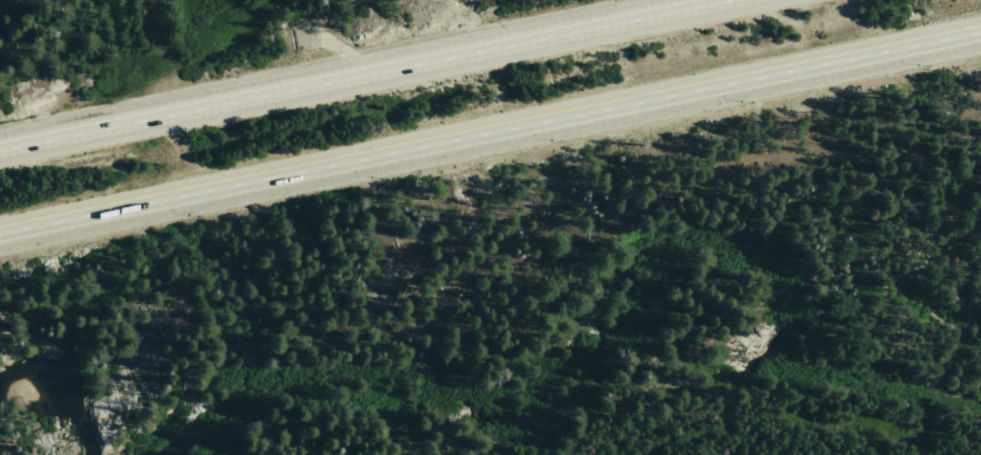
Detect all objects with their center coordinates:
road: (361, 74)
road: (490, 135)
road: (180, 154)
river: (617, 301)
river: (217, 396)
river: (9, 397)
river: (934, 401)
river: (71, 404)

